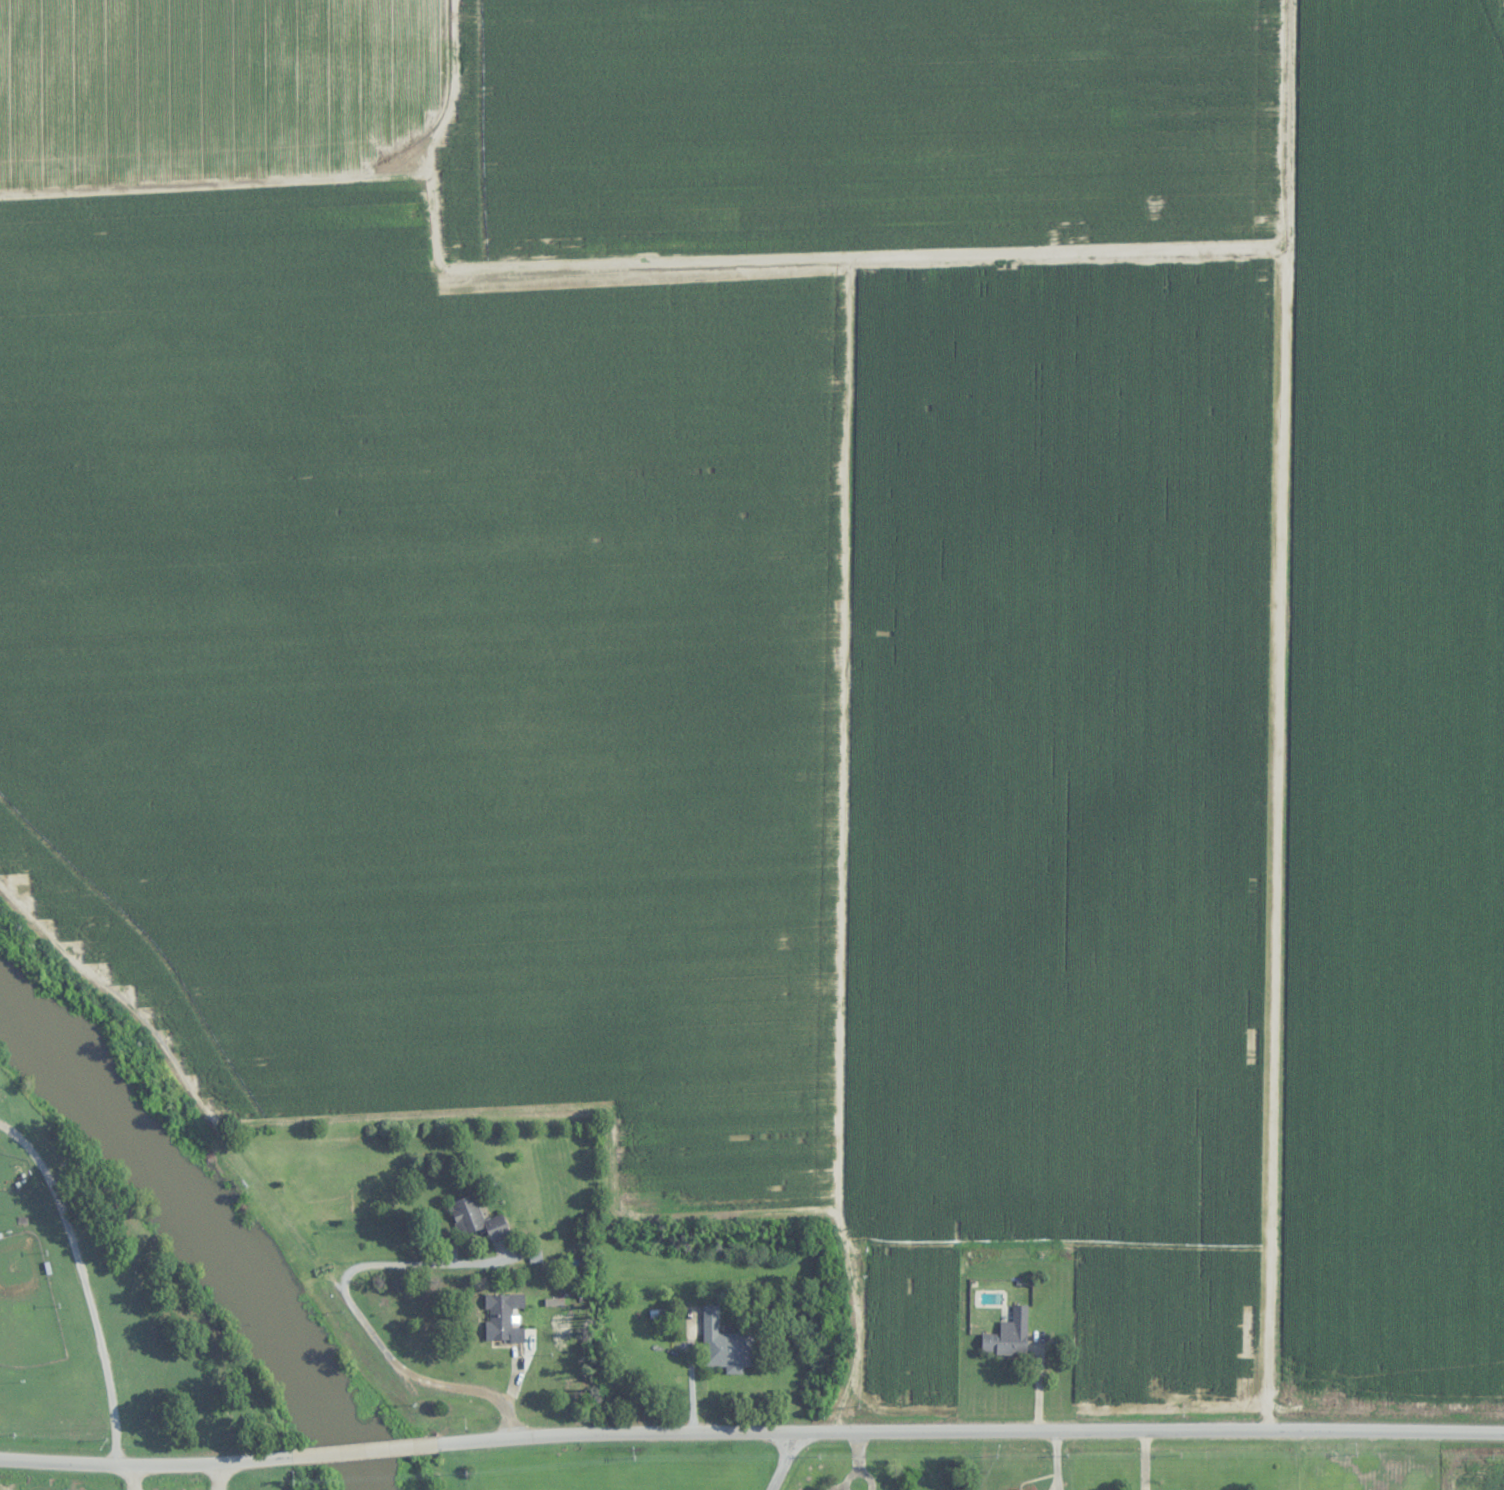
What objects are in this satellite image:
road: (104, 982)
building: (477, 1219)
river: (208, 1227)
building: (503, 1318)
building: (1004, 1344)
building: (726, 1345)
road: (434, 1382)
road: (957, 1432)
road: (356, 1452)
road: (782, 1462)
road: (150, 1466)

